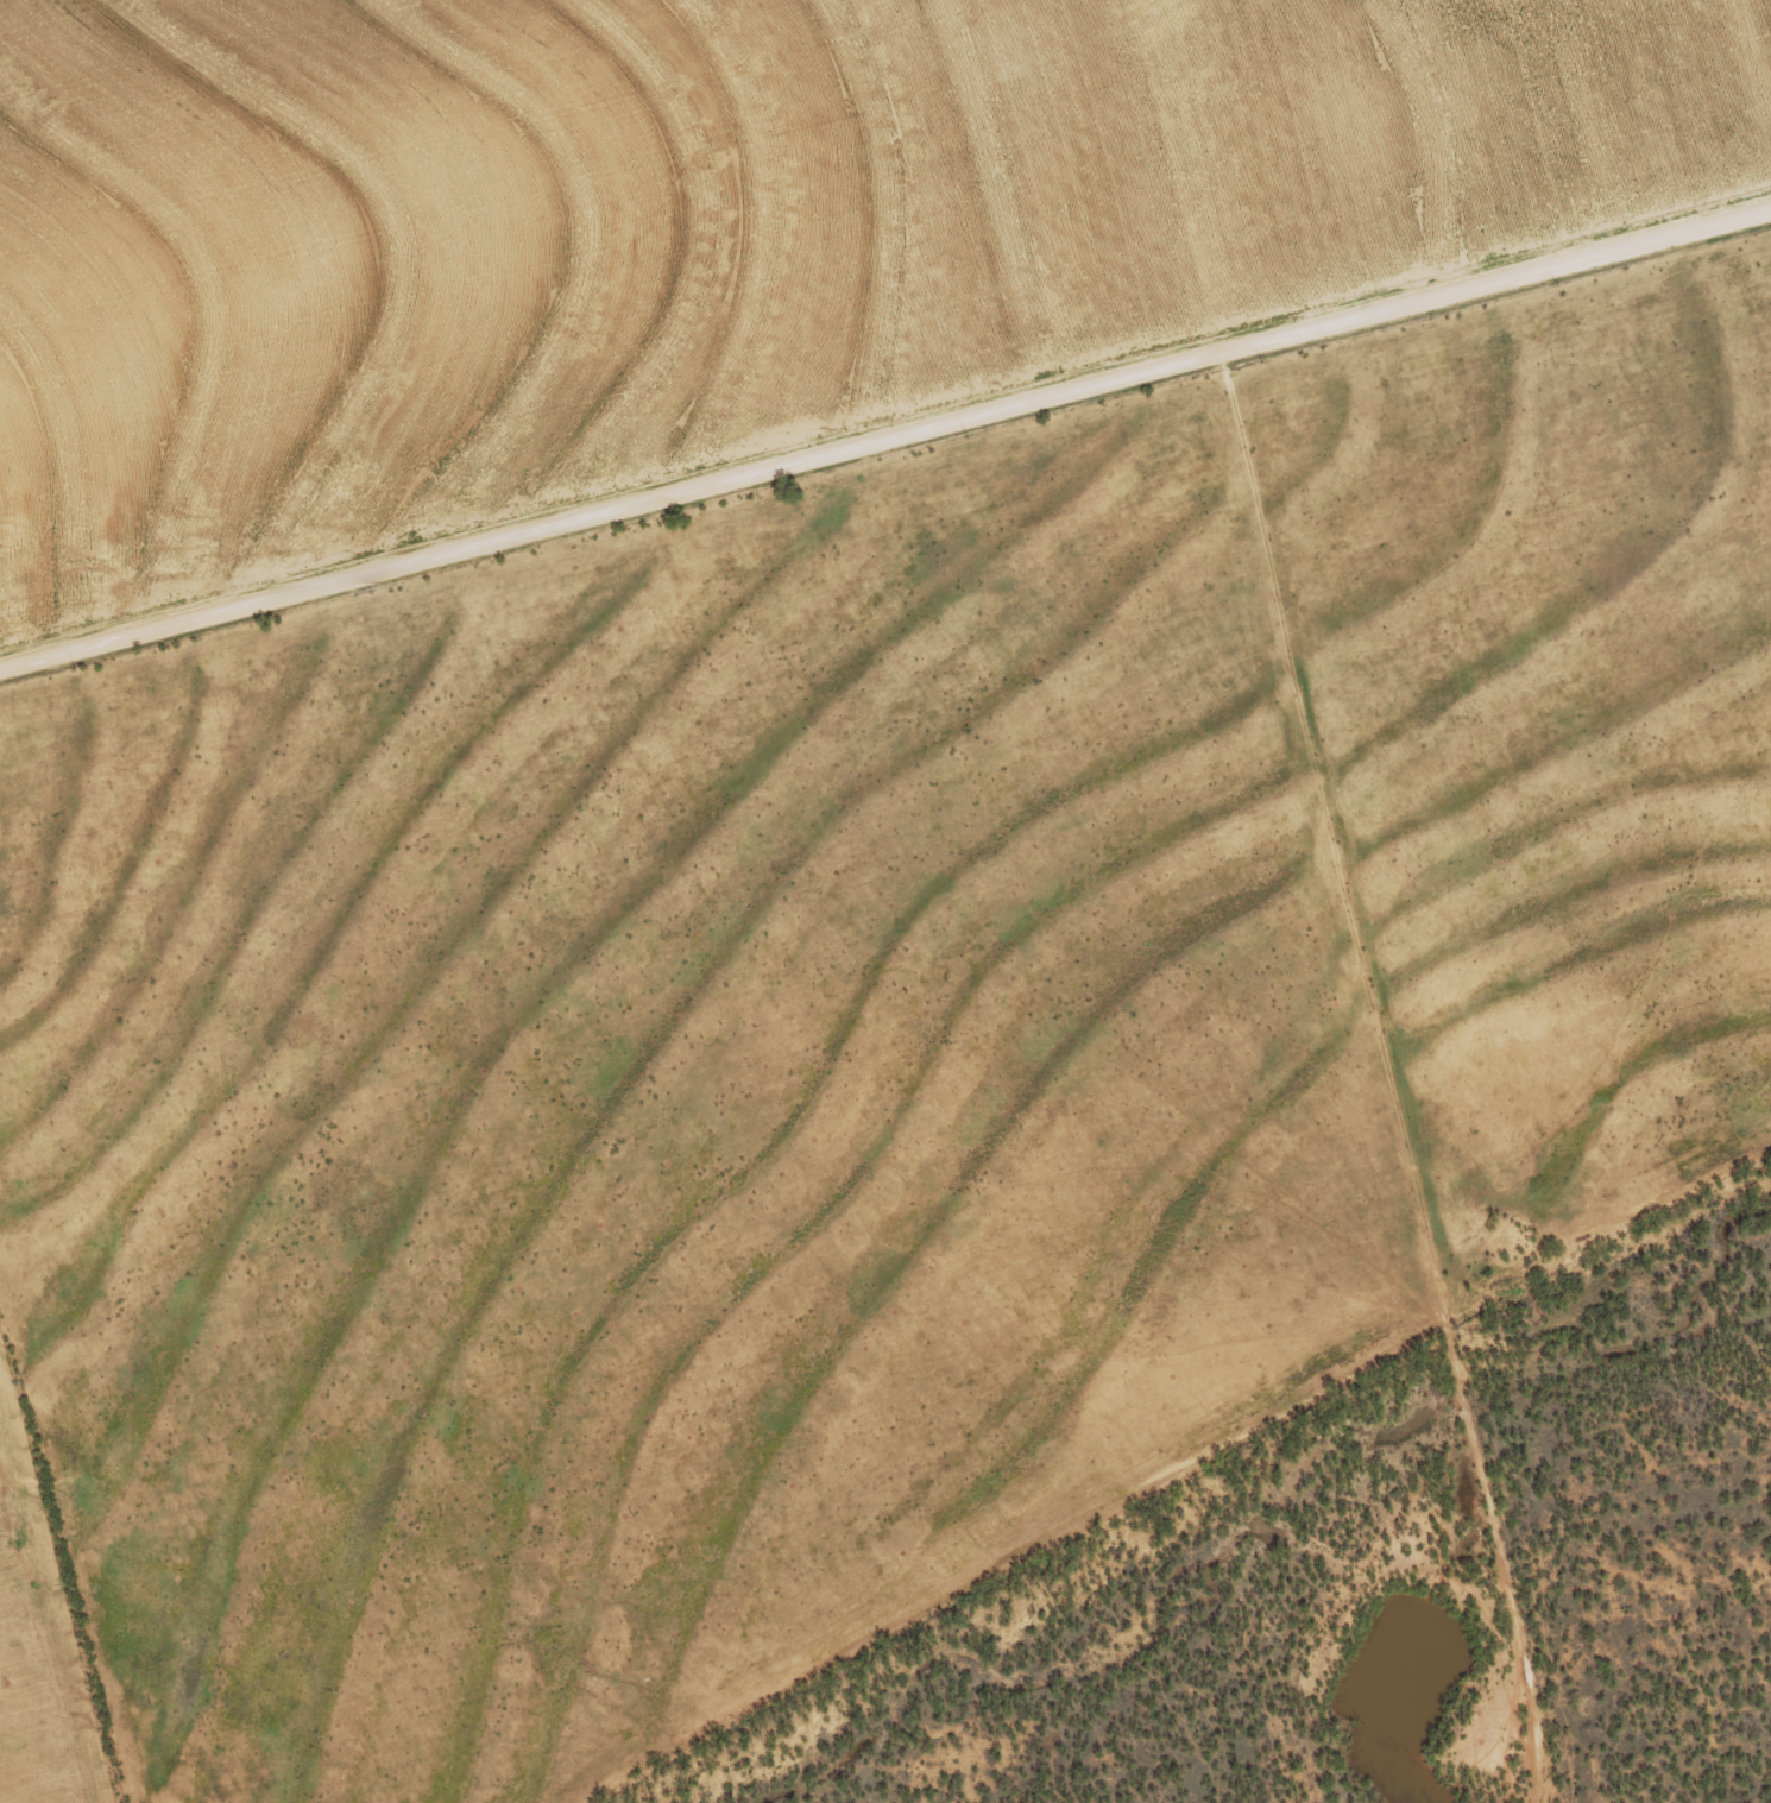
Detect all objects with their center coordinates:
road: (885, 469)

